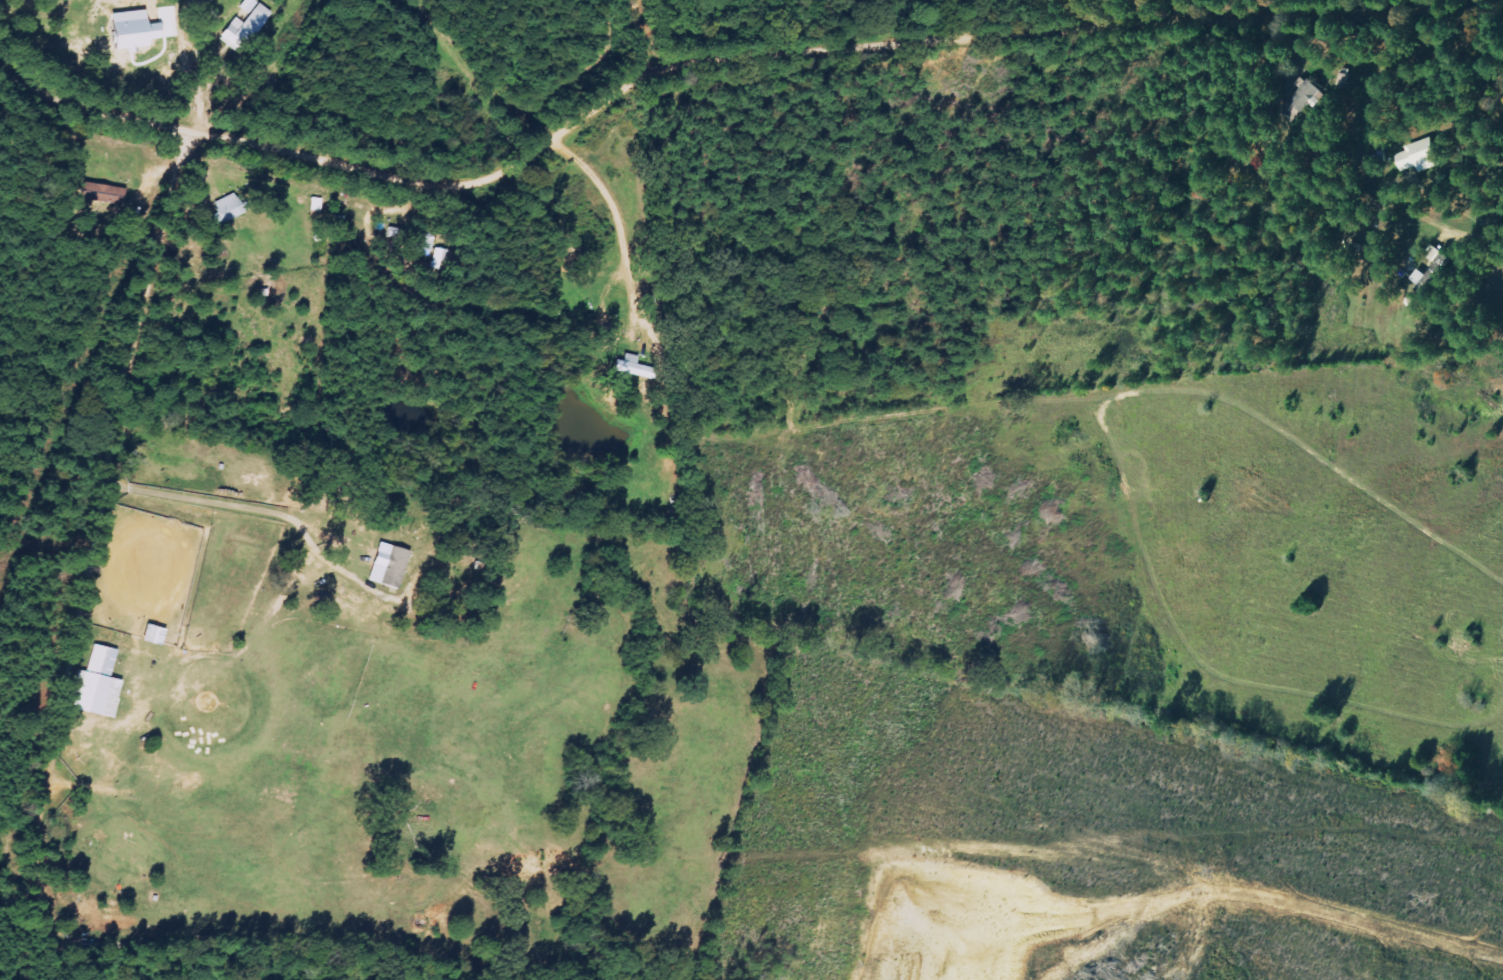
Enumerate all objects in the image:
building: (249, 29)
road: (665, 46)
road: (1073, 54)
building: (1309, 93)
road: (97, 110)
building: (1296, 111)
building: (1424, 155)
road: (446, 172)
building: (111, 194)
building: (233, 209)
building: (427, 240)
building: (1437, 270)
building: (641, 367)
building: (400, 567)
road: (120, 571)
building: (104, 684)

